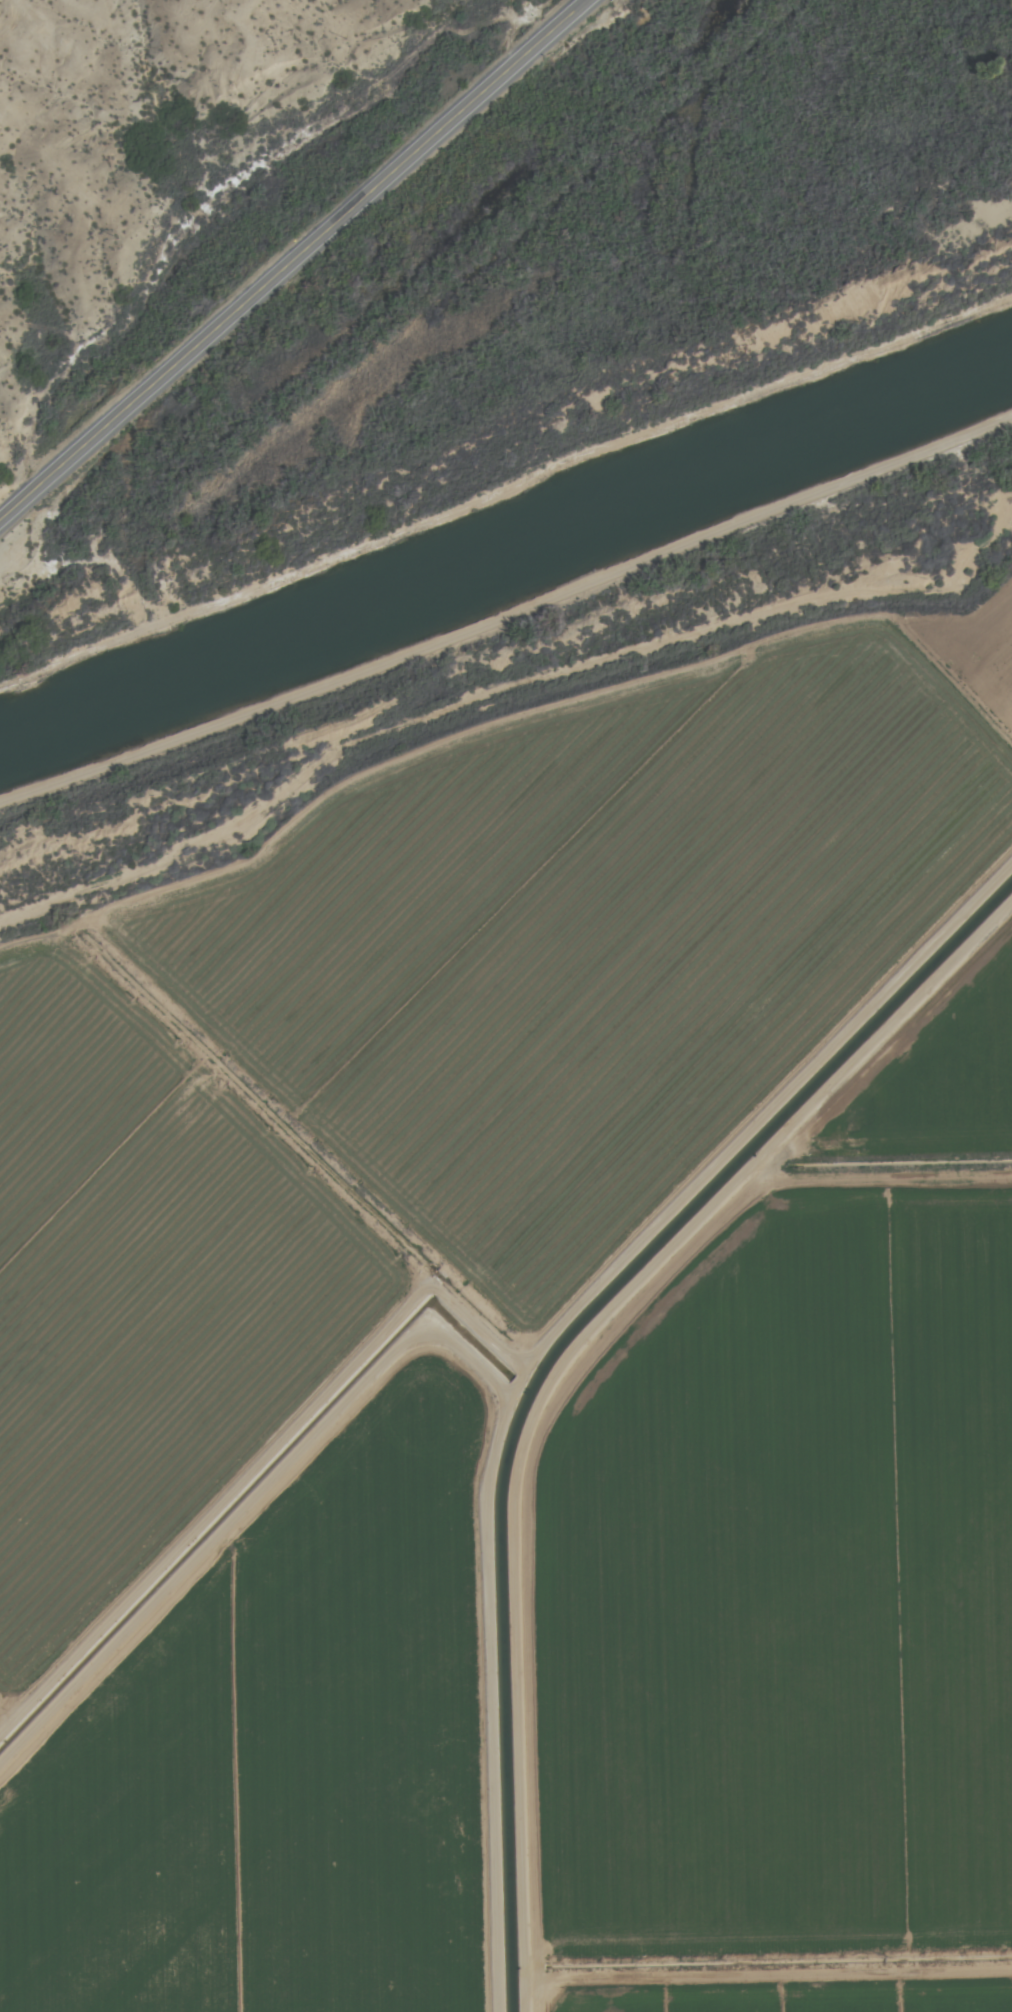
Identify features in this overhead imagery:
road: (295, 261)
crop: (947, 1076)

